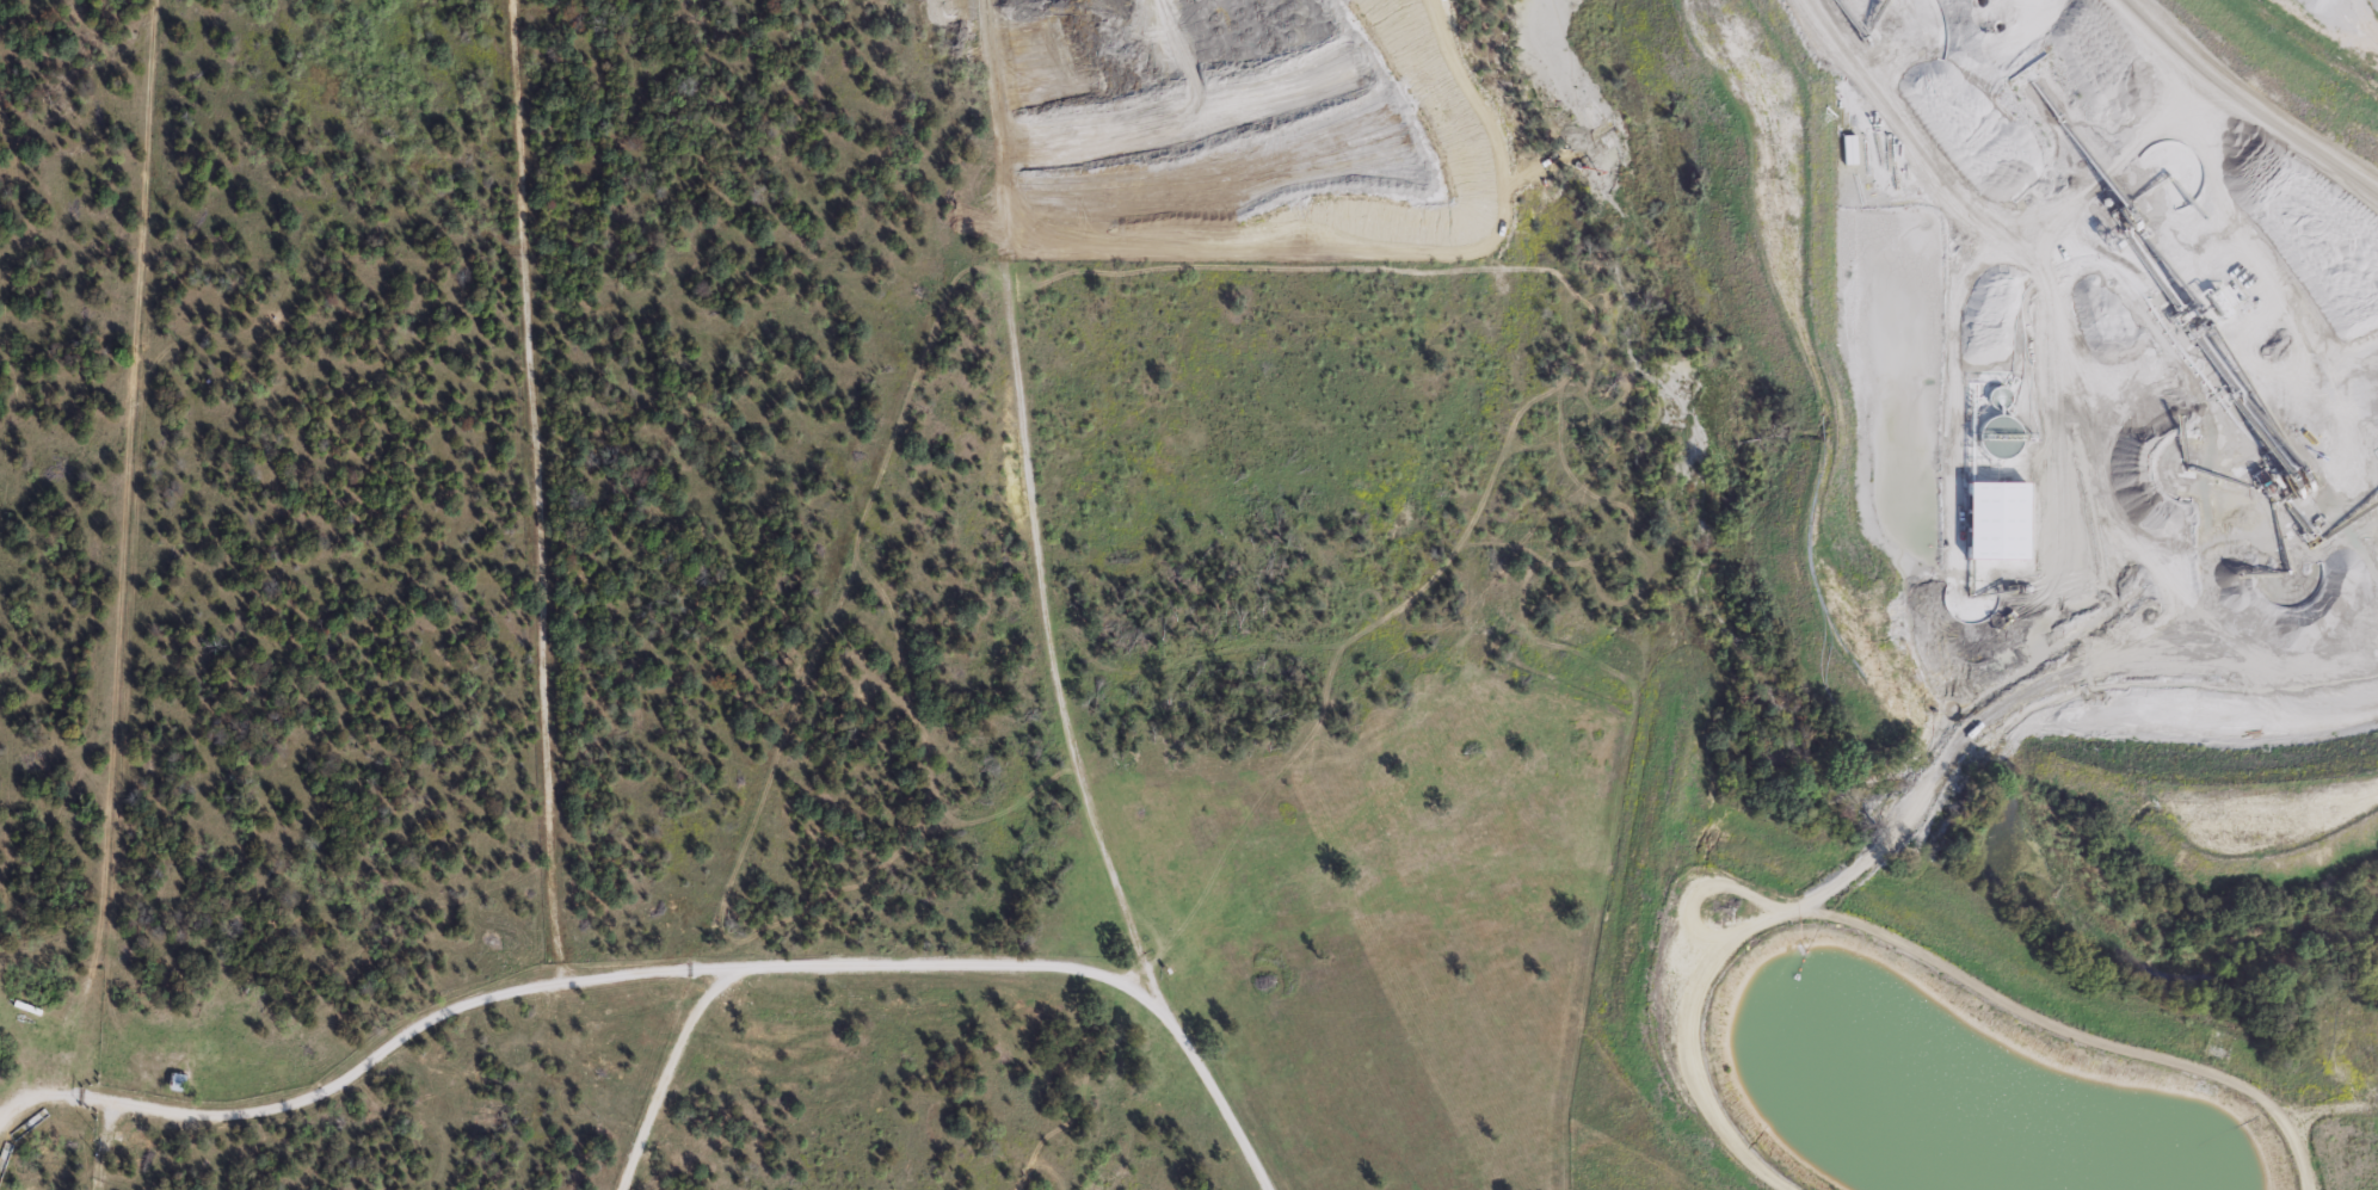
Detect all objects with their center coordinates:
road: (516, 62)
road: (1780, 104)
road: (1493, 479)
road: (1031, 510)
road: (537, 554)
road: (566, 981)
road: (666, 1072)
building: (177, 1080)
road: (1215, 1096)
road: (101, 1145)

